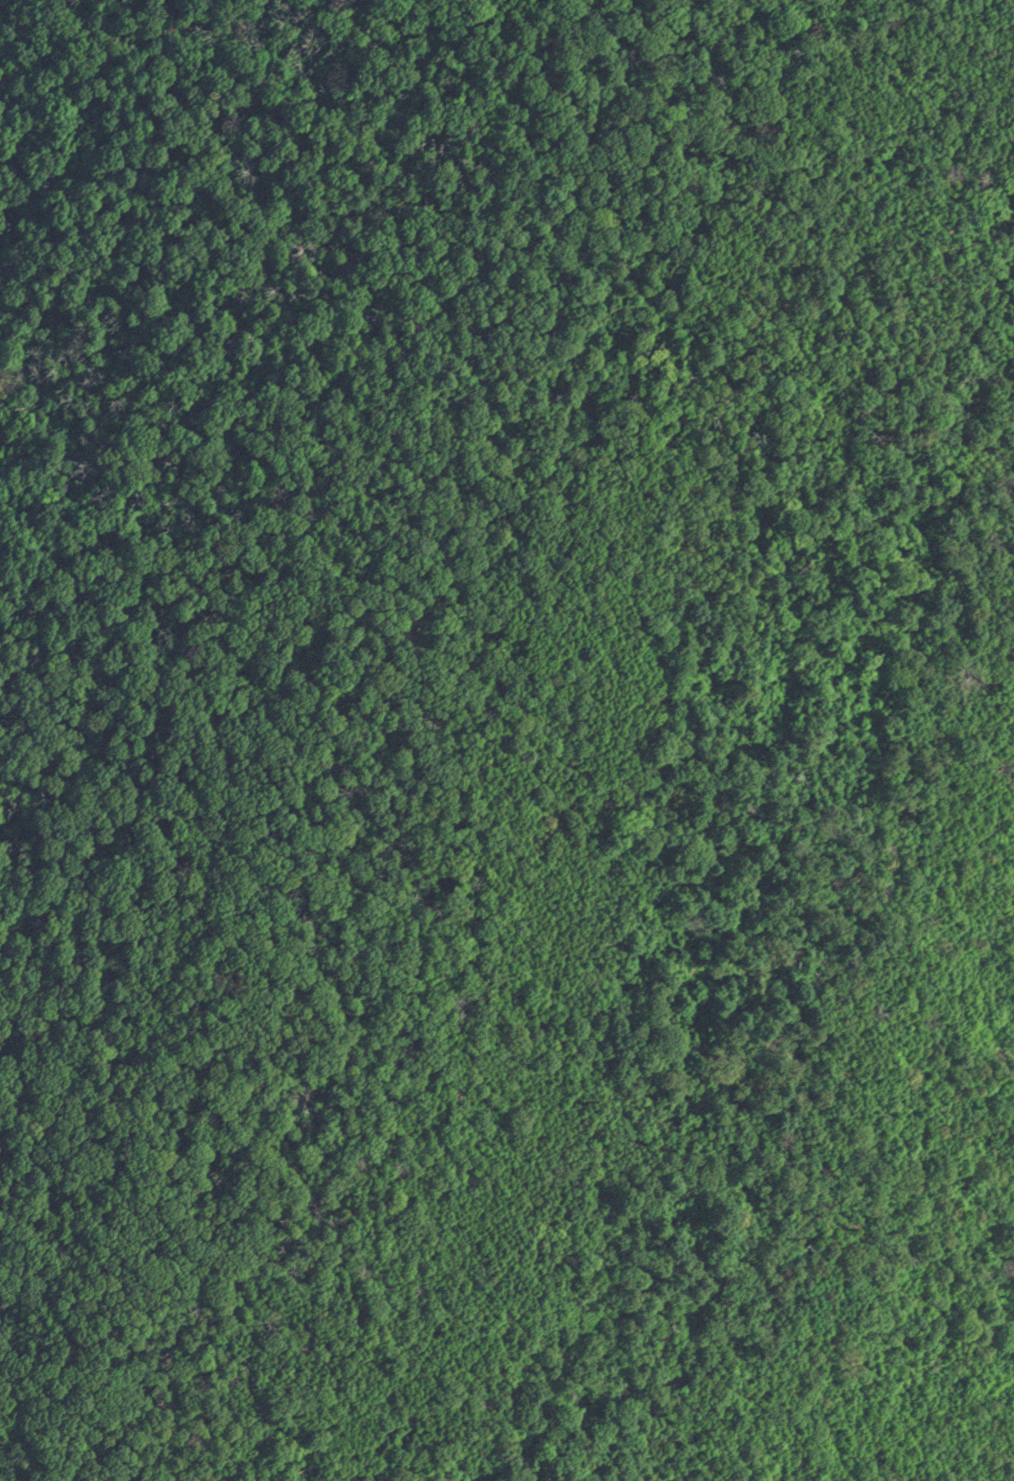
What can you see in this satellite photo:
road: (779, 729)

